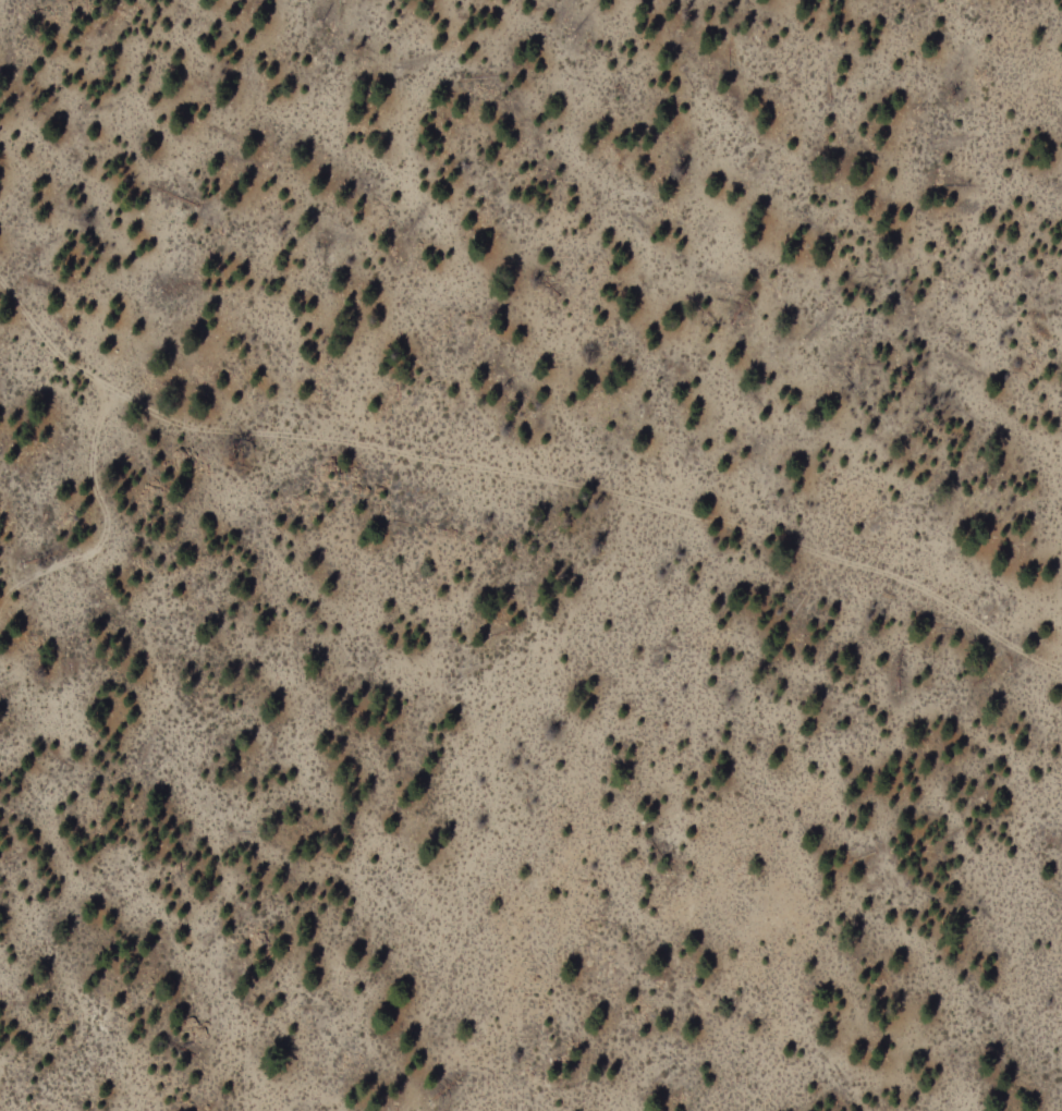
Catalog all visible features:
road: (110, 328)
road: (521, 477)
road: (373, 1108)

